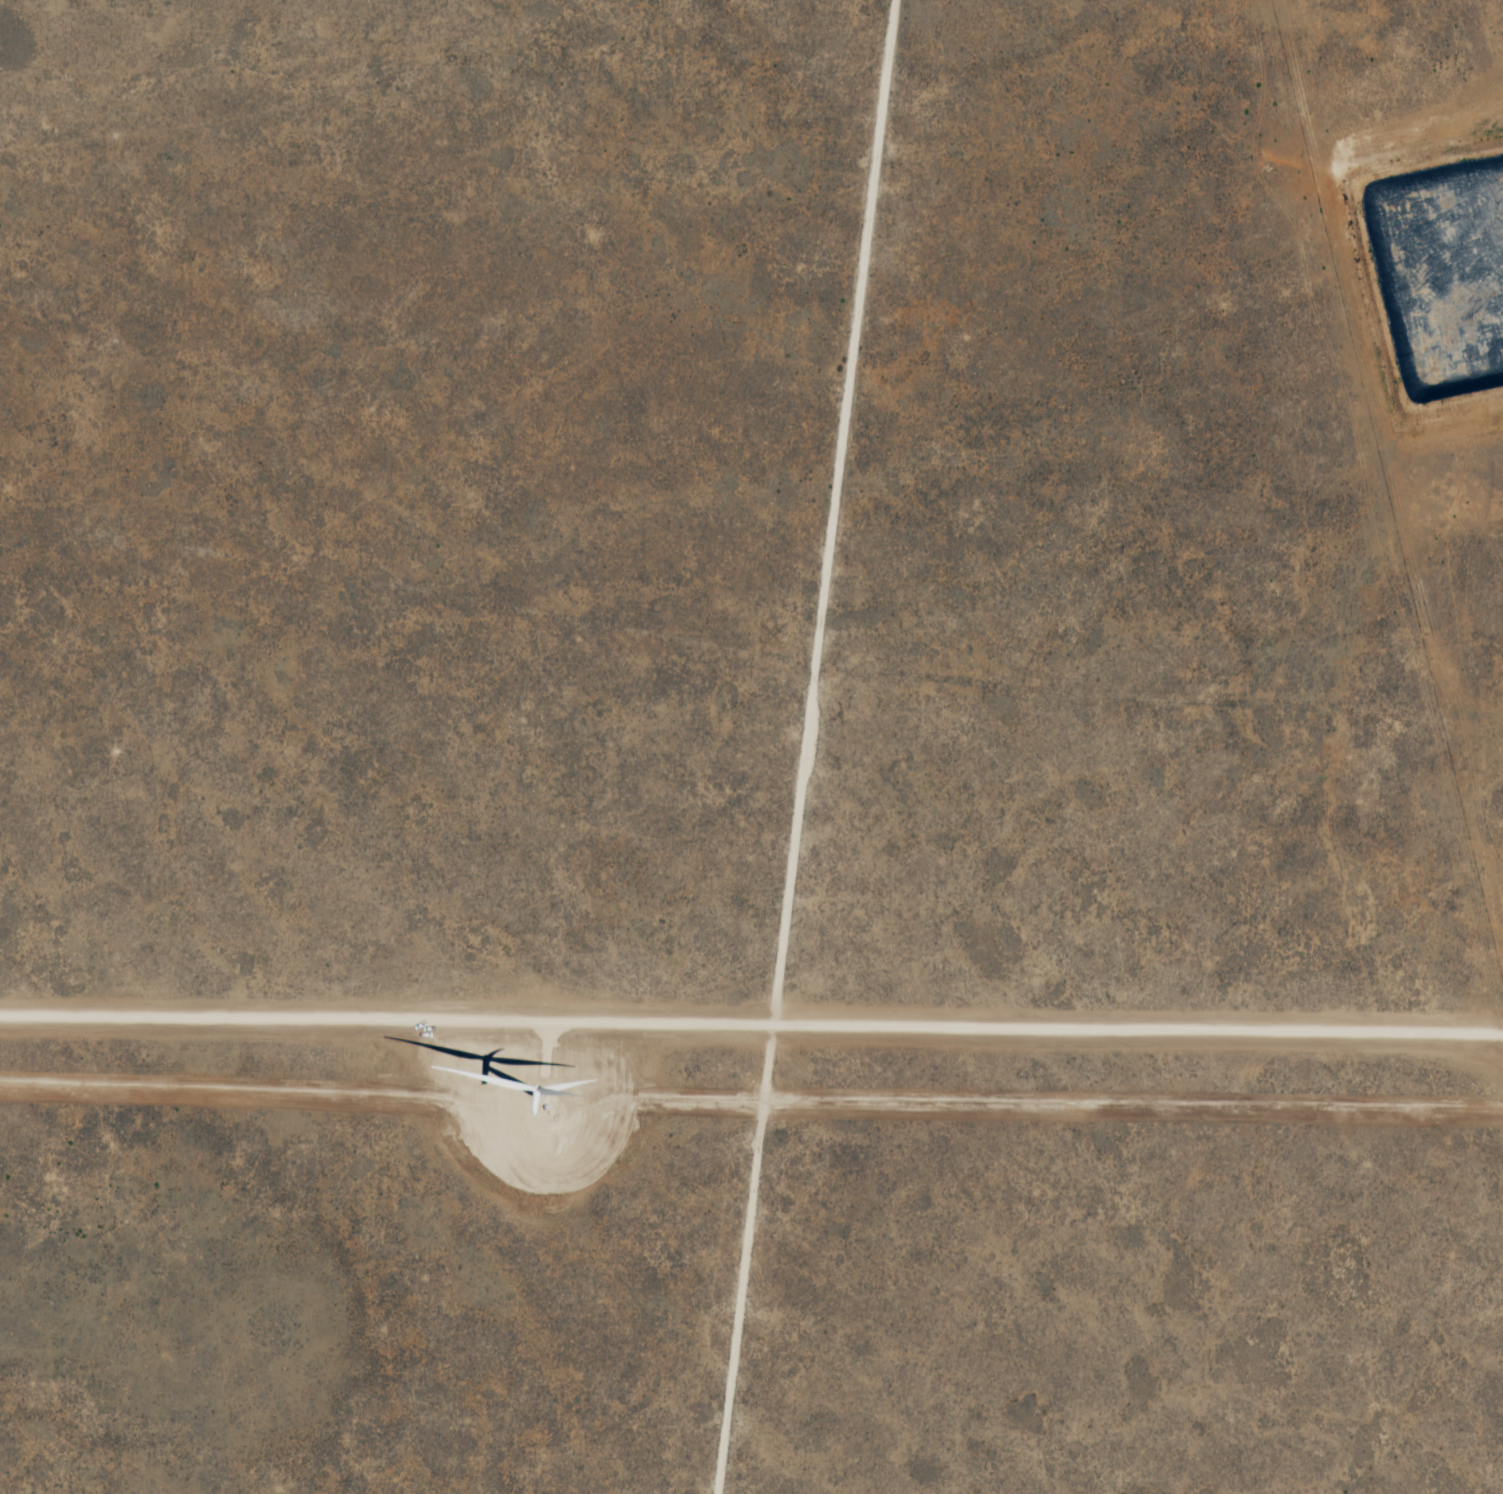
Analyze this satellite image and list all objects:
wind turbine: (534, 1095)

